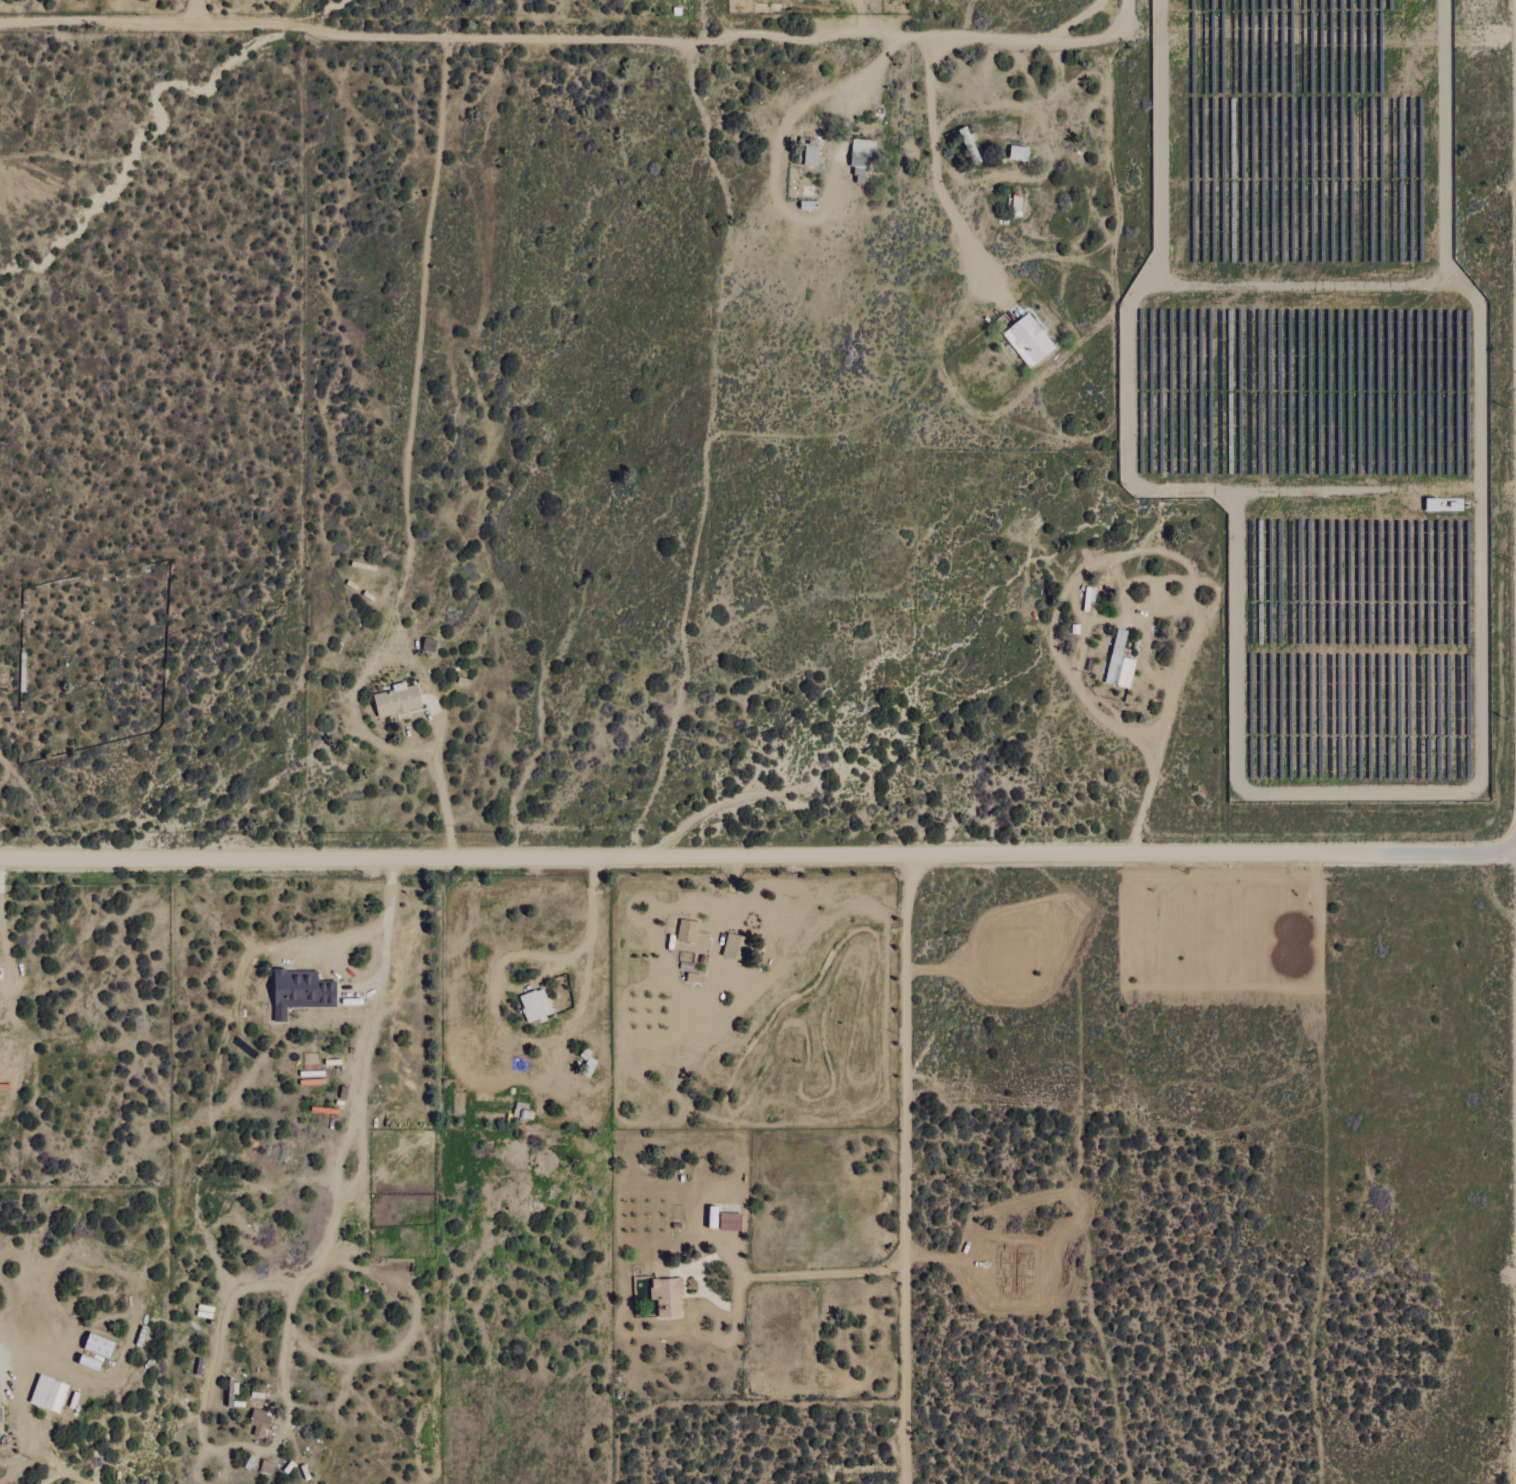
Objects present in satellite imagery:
road: (1114, 7)
road: (193, 11)
road: (863, 20)
road: (560, 40)
road: (1043, 102)
road: (978, 104)
road: (791, 117)
road: (1015, 136)
building: (1019, 153)
building: (810, 156)
building: (861, 157)
road: (933, 171)
road: (1024, 180)
building: (1017, 205)
building: (1029, 341)
building: (1433, 504)
road: (411, 659)
building: (1120, 662)
building: (397, 700)
road: (1137, 748)
road: (758, 857)
road: (592, 944)
road: (4, 956)
building: (301, 992)
building: (535, 1005)
road: (906, 1170)
building: (730, 1221)
road: (747, 1277)
road: (294, 1294)
building: (667, 1297)
building: (99, 1345)
road: (18, 1377)
building: (49, 1394)
building: (0, 1415)
building: (259, 1422)
building: (266, 1467)

